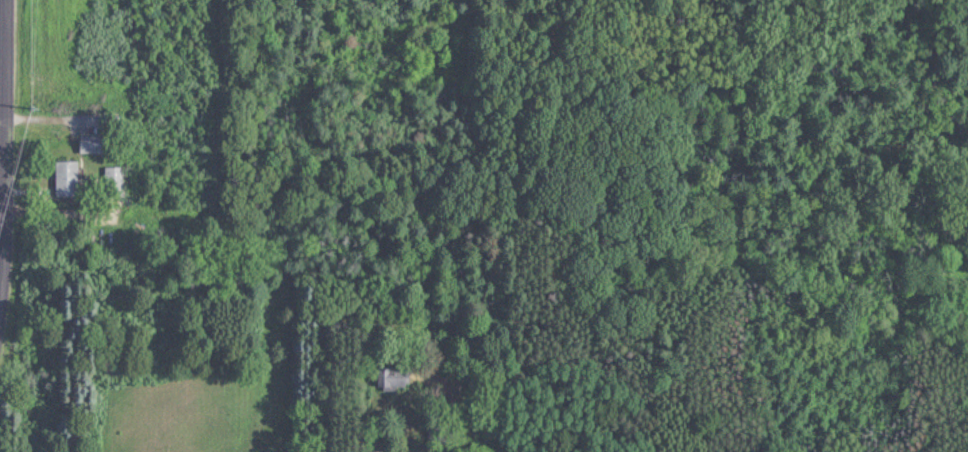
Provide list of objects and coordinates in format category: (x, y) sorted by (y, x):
building: (93, 143)
road: (10, 168)
building: (66, 178)
building: (114, 180)
road: (5, 218)

